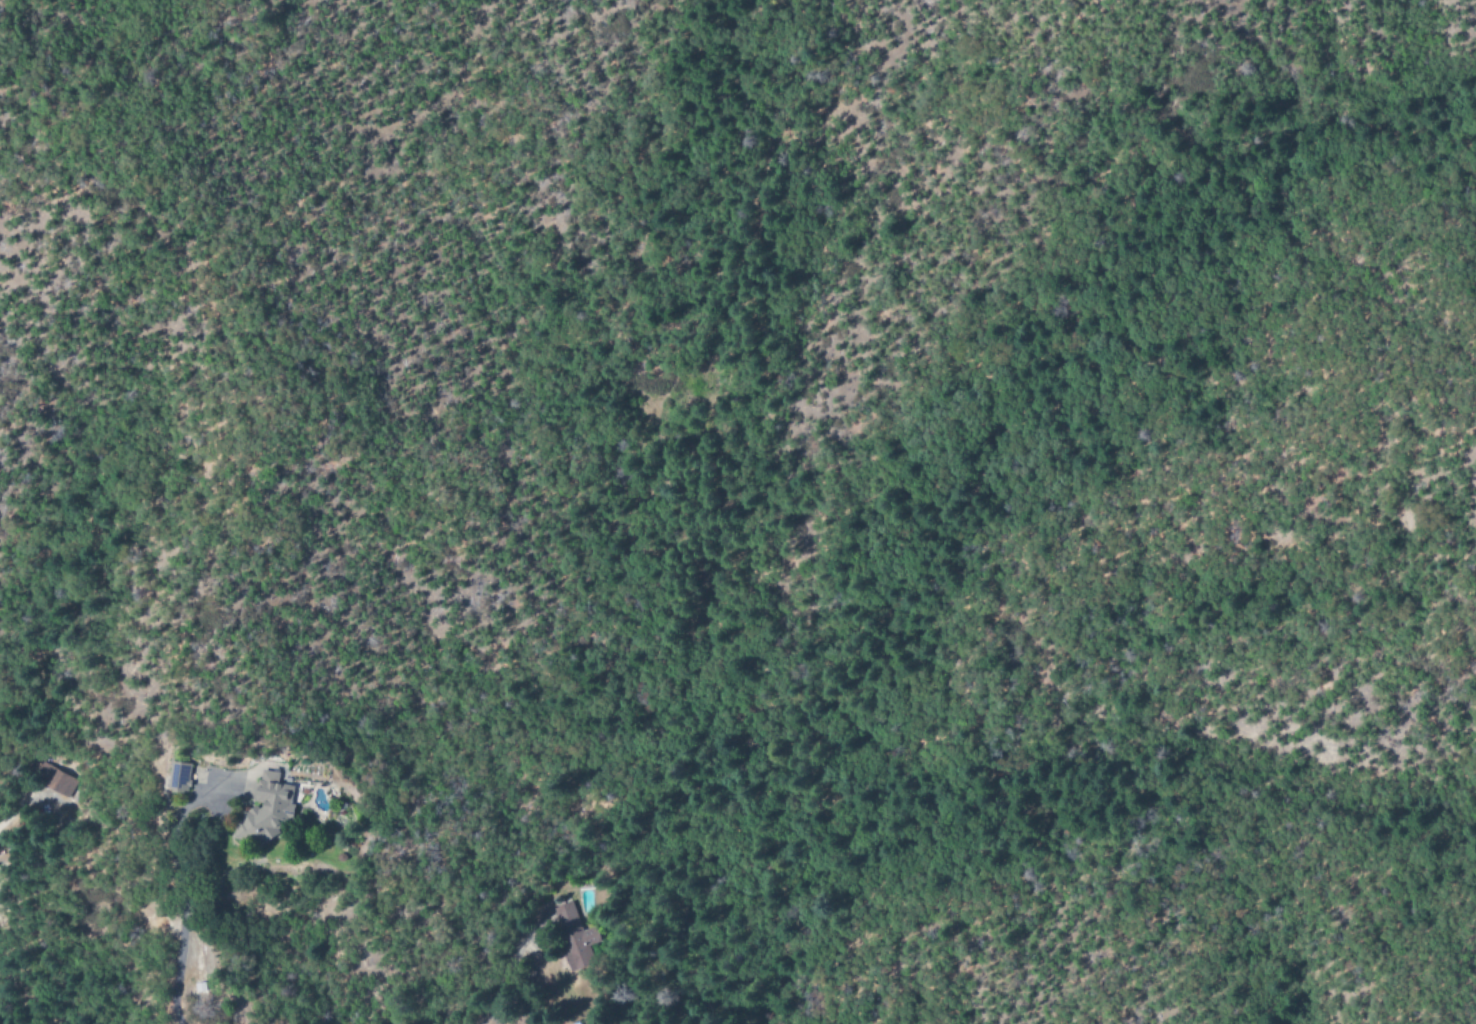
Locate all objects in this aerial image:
building: (180, 776)
building: (52, 777)
building: (272, 807)
road: (183, 891)
building: (573, 936)

